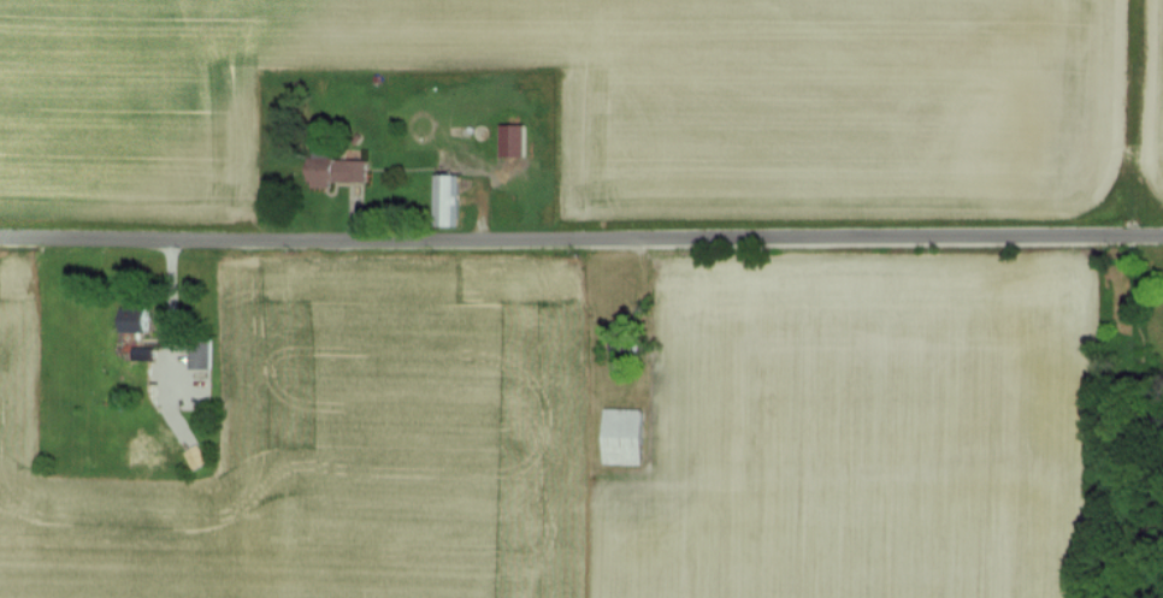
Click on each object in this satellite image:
building: (331, 168)
building: (443, 199)
road: (581, 251)
road: (592, 327)

